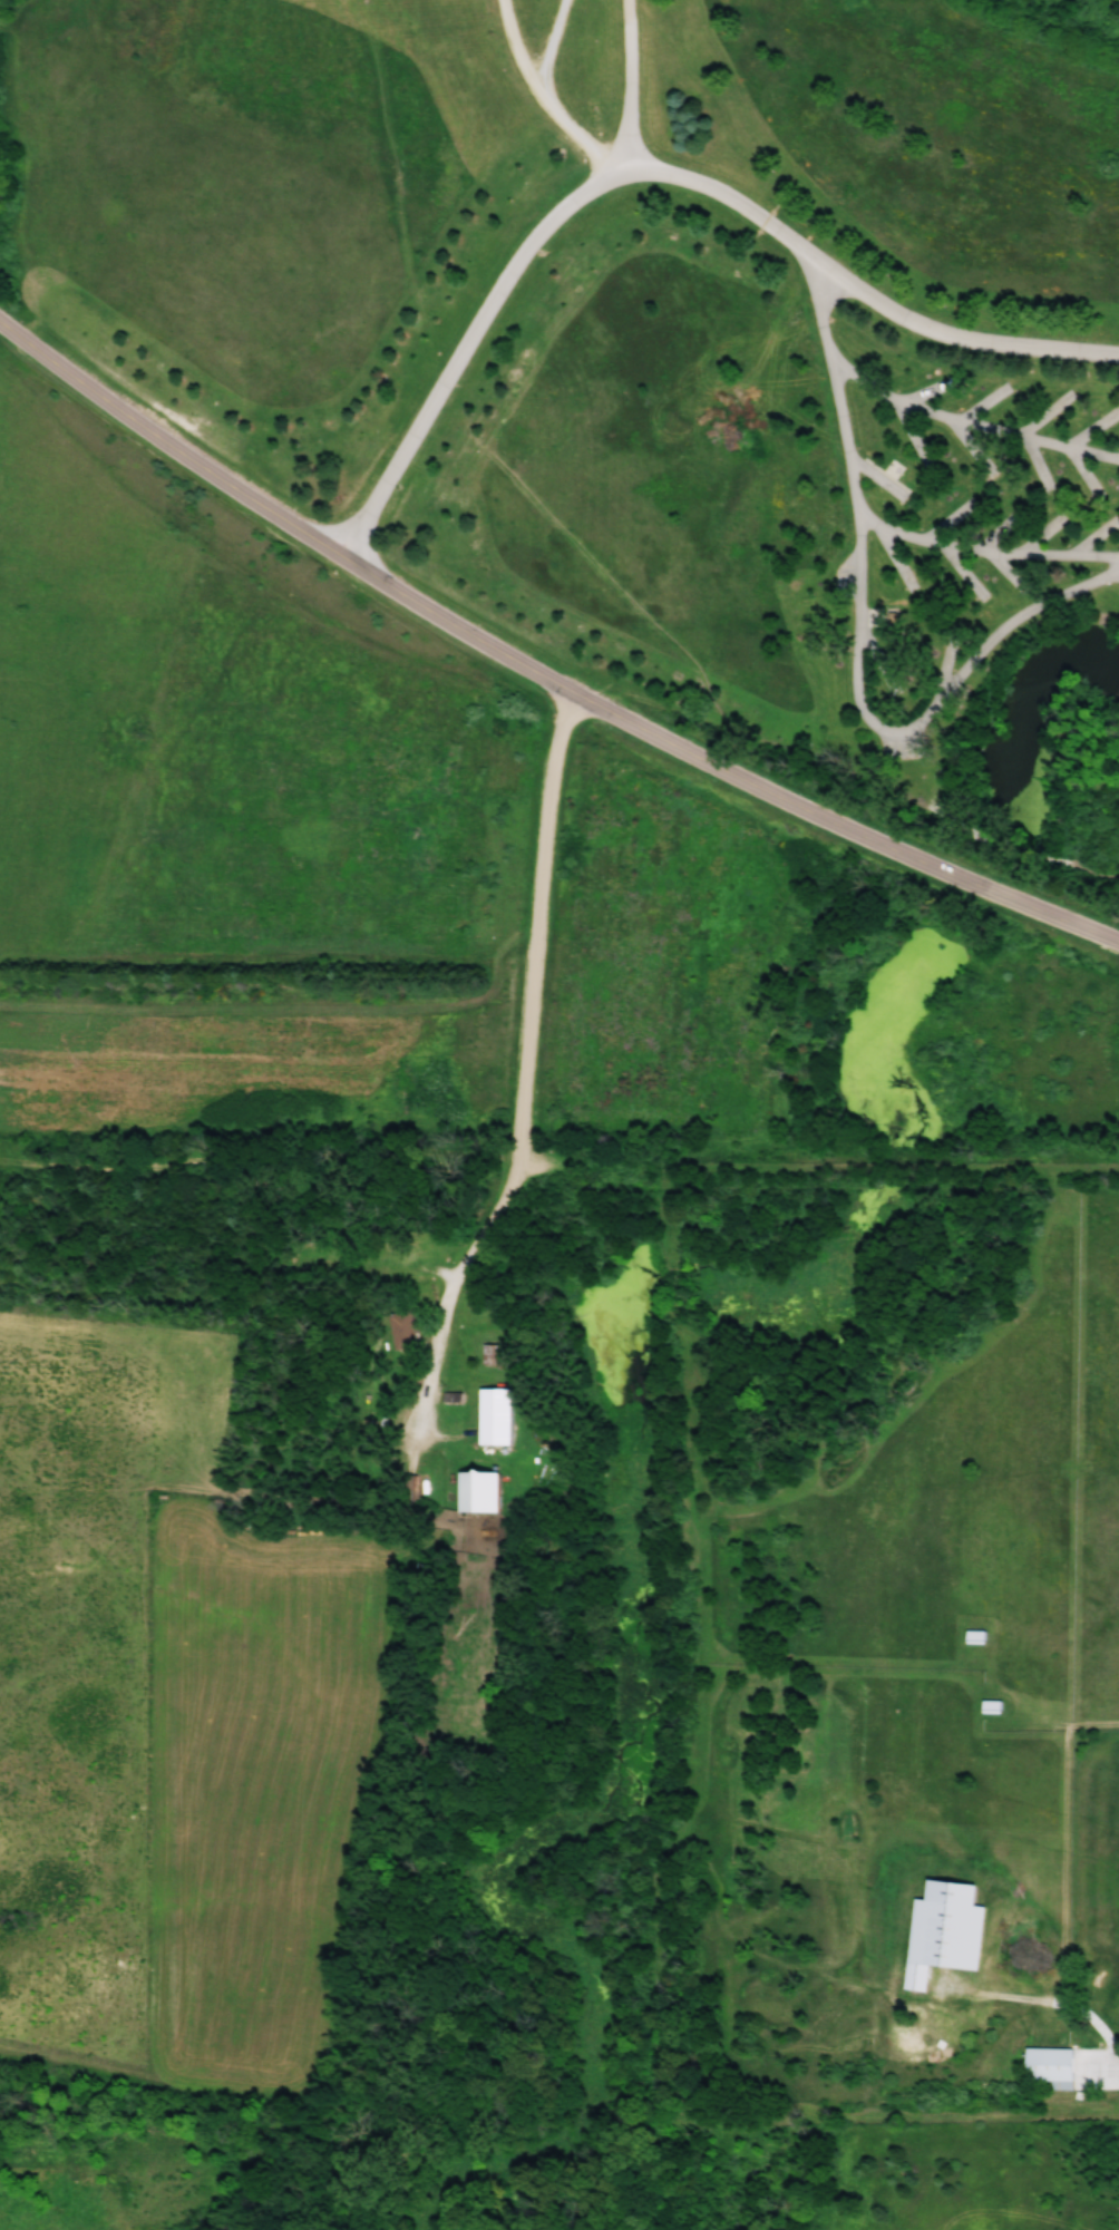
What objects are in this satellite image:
road: (553, 45)
road: (630, 81)
road: (544, 97)
road: (862, 290)
road: (469, 342)
park: (648, 354)
road: (970, 423)
road: (985, 552)
road: (857, 641)
road: (533, 670)
road: (734, 701)
road: (912, 761)
road: (527, 1063)
building: (398, 1328)
building: (490, 1353)
building: (492, 1415)
building: (475, 1491)
building: (973, 1636)
building: (989, 1706)
building: (941, 1931)
road: (1051, 2004)
building: (1048, 2065)

